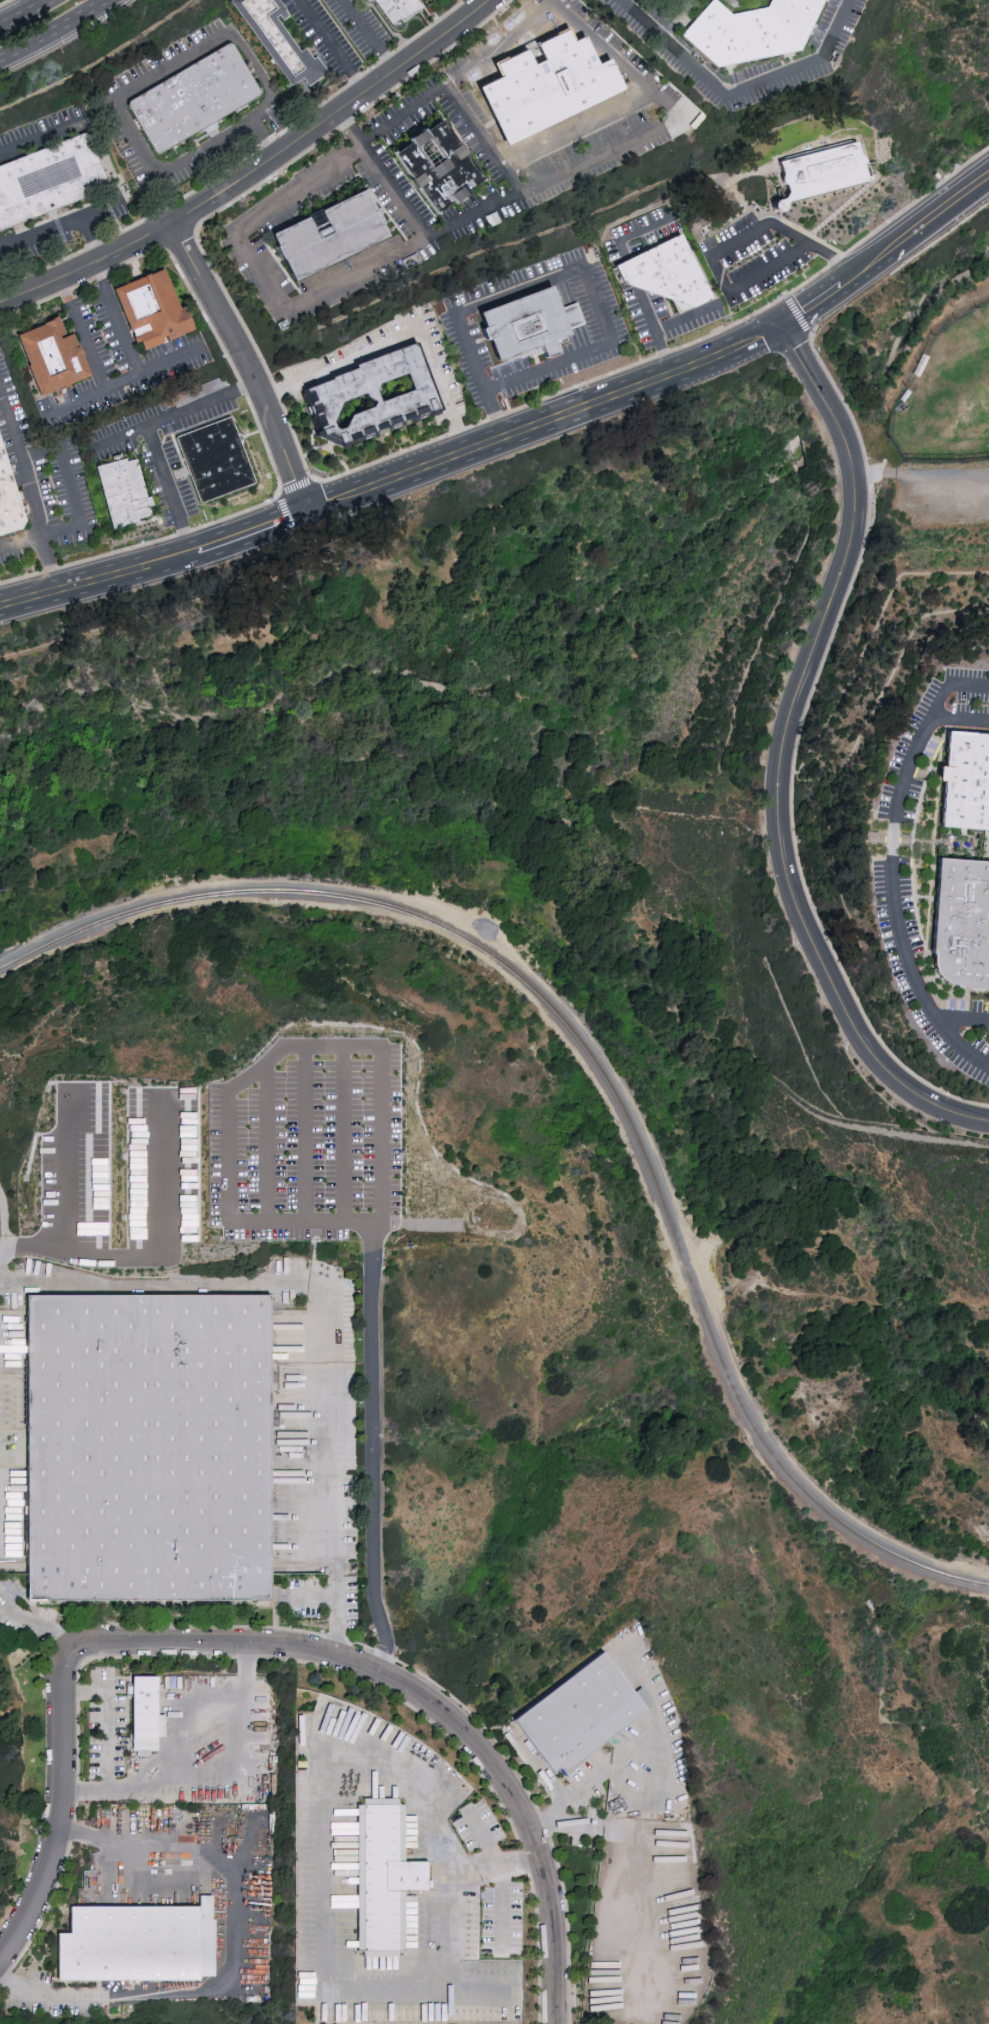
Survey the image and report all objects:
road: (5, 2)
building: (395, 10)
road: (23, 12)
building: (755, 31)
road: (58, 34)
road: (367, 35)
building: (279, 42)
road: (330, 45)
road: (630, 72)
road: (133, 87)
building: (547, 87)
road: (738, 92)
building: (194, 99)
road: (332, 112)
road: (278, 125)
road: (347, 128)
road: (579, 131)
road: (261, 136)
road: (39, 139)
road: (241, 159)
building: (438, 167)
building: (825, 173)
road: (266, 176)
building: (52, 182)
road: (294, 192)
road: (60, 224)
road: (919, 227)
road: (637, 234)
road: (91, 236)
building: (329, 238)
road: (740, 239)
road: (55, 253)
road: (833, 257)
road: (87, 265)
road: (581, 265)
building: (667, 271)
road: (630, 272)
road: (817, 304)
road: (714, 305)
building: (151, 312)
road: (117, 317)
building: (526, 328)
traffic signals: (784, 328)
road: (80, 334)
road: (403, 338)
road: (663, 354)
building: (51, 359)
road: (248, 366)
road: (122, 381)
park: (939, 386)
building: (373, 399)
road: (495, 415)
road: (176, 416)
road: (546, 425)
road: (11, 426)
building: (217, 462)
road: (69, 483)
road: (169, 490)
building: (124, 495)
road: (32, 496)
building: (8, 503)
road: (21, 540)
road: (47, 563)
road: (154, 563)
road: (959, 721)
road: (783, 756)
building: (969, 790)
road: (673, 813)
road: (84, 840)
road: (891, 854)
building: (964, 929)
road: (955, 1045)
railway: (600, 1072)
road: (306, 1132)
road: (345, 1133)
road: (267, 1141)
road: (61, 1167)
road: (380, 1215)
road: (302, 1219)
road: (157, 1252)
road: (168, 1285)
building: (147, 1457)
road: (336, 1480)
road: (32, 1639)
road: (427, 1704)
building: (145, 1710)
building: (579, 1716)
road: (107, 1719)
road: (646, 1732)
road: (217, 1750)
road: (549, 1777)
road: (87, 1787)
road: (657, 1798)
road: (66, 1812)
road: (486, 1836)
road: (320, 1852)
building: (384, 1874)
road: (637, 1880)
road: (501, 1903)
building: (136, 1941)
road: (236, 1953)
road: (480, 1988)
building: (250, 1989)

